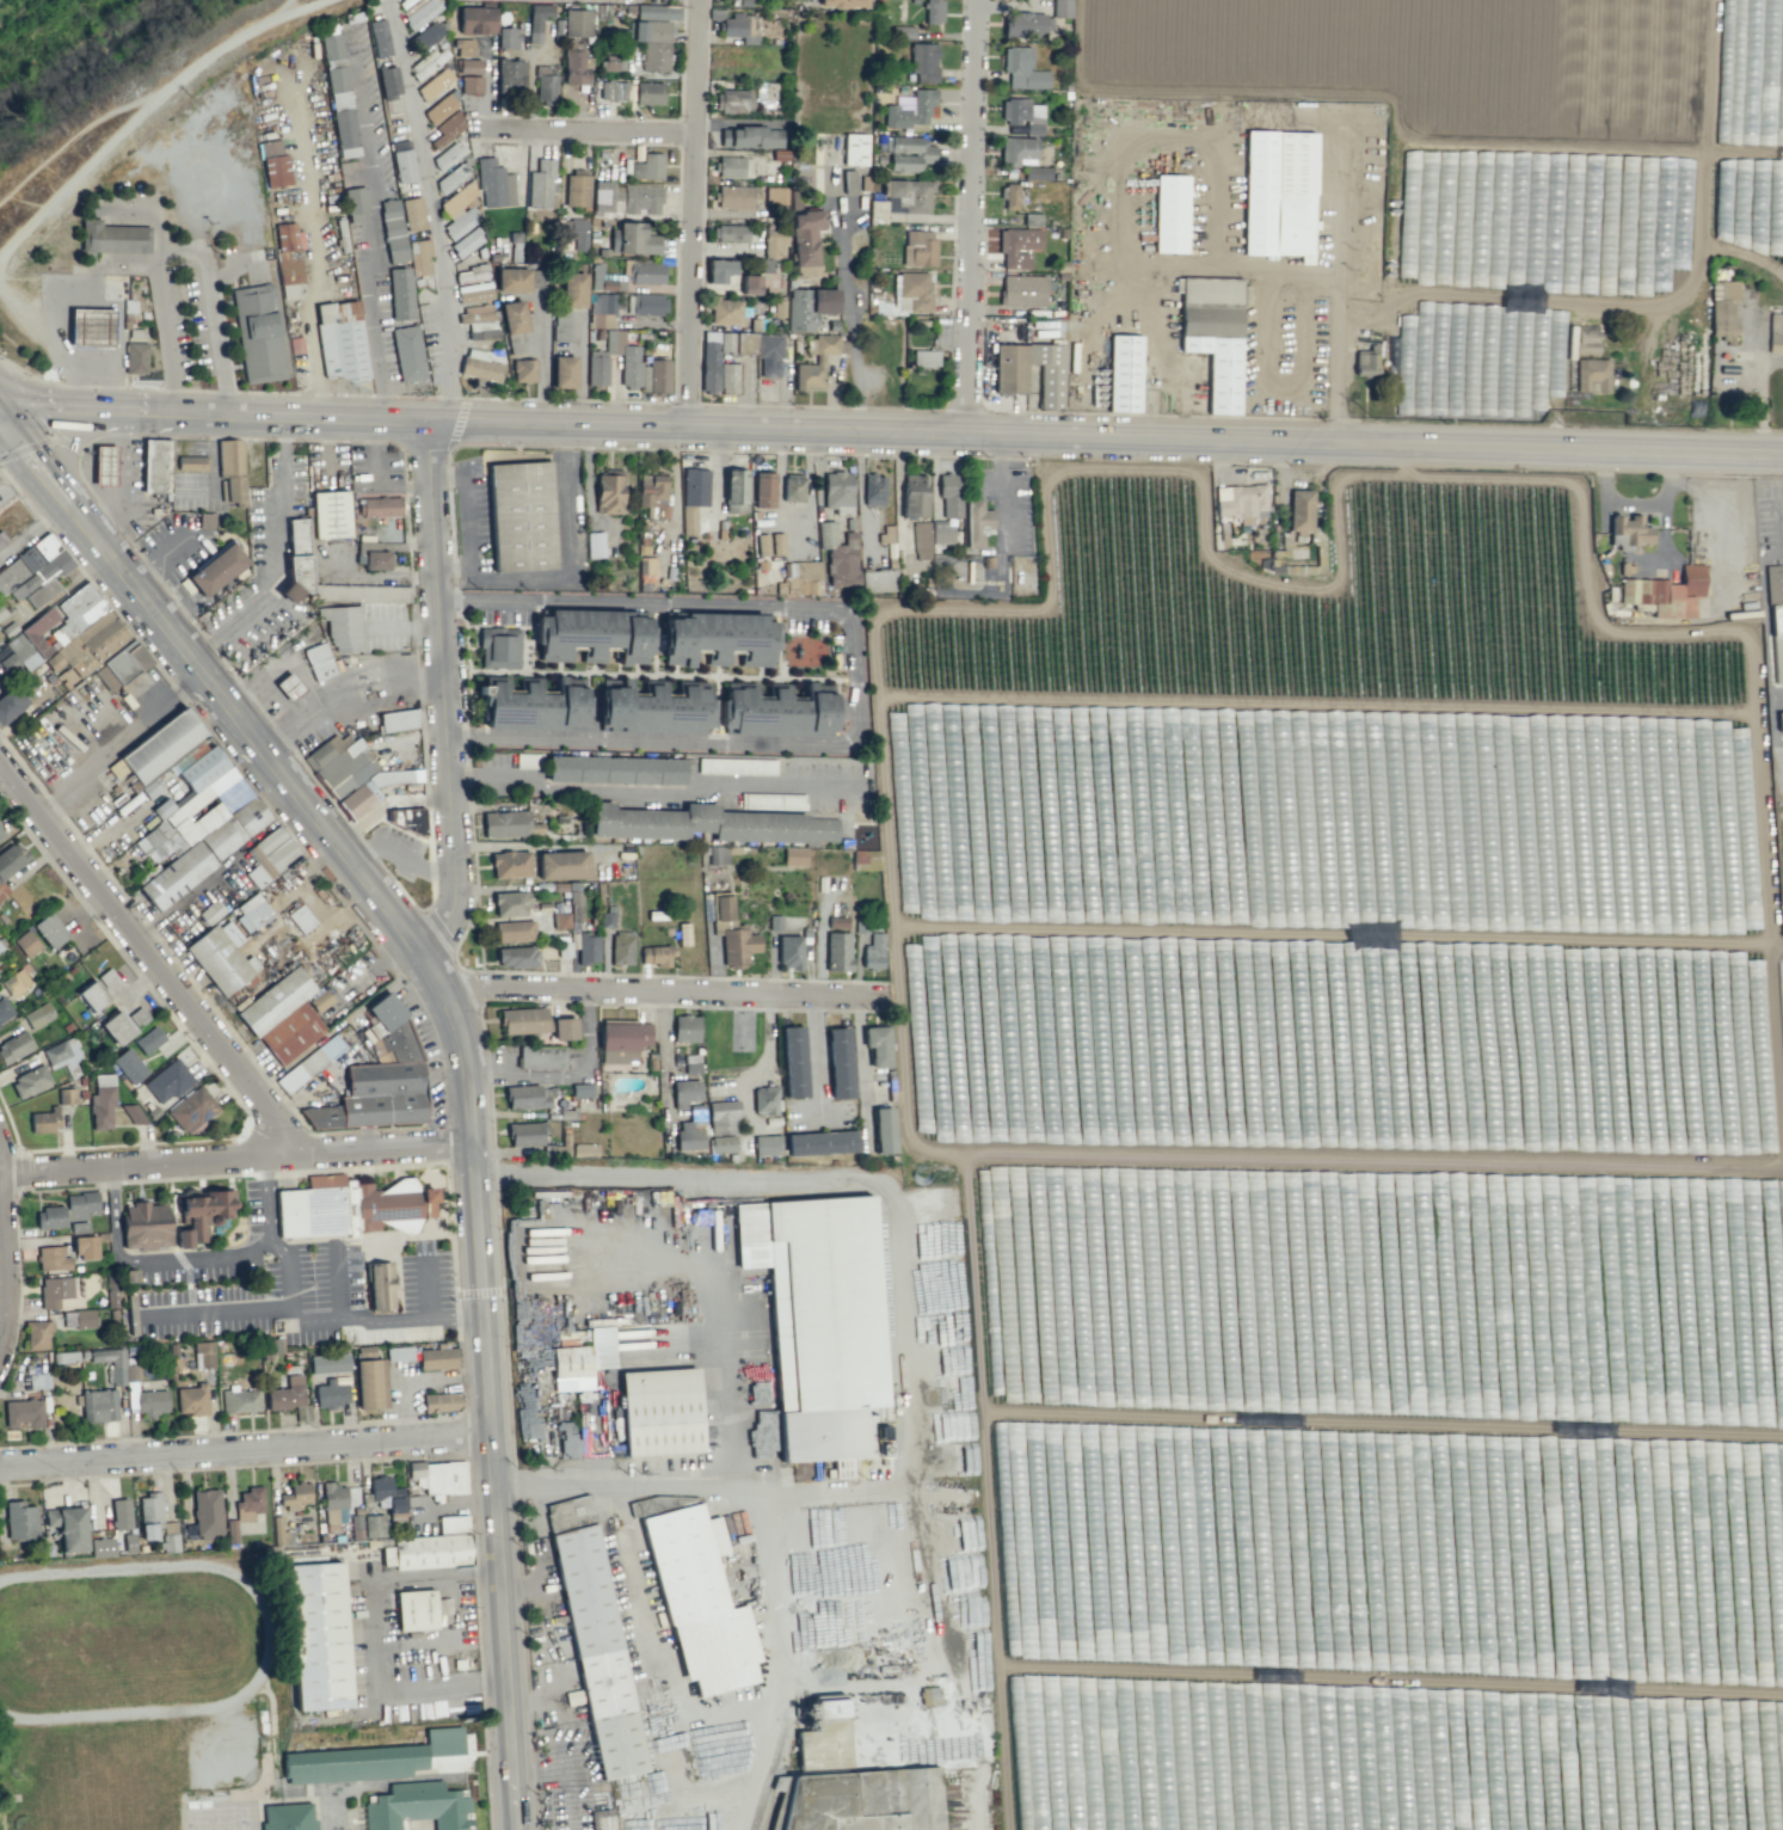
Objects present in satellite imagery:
building: (406, 1)
building: (842, 2)
building: (1062, 8)
building: (657, 11)
building: (933, 11)
park: (54, 12)
building: (420, 13)
building: (715, 13)
building: (477, 19)
building: (537, 20)
building: (577, 23)
building: (1027, 24)
river: (30, 25)
building: (1751, 27)
building: (428, 35)
building: (380, 37)
building: (508, 37)
building: (653, 43)
building: (463, 47)
park: (4, 61)
building: (923, 61)
building: (429, 62)
building: (610, 62)
building: (576, 63)
building: (469, 66)
building: (1022, 69)
building: (510, 75)
building: (388, 81)
building: (434, 84)
building: (471, 84)
building: (545, 86)
building: (613, 90)
building: (647, 93)
building: (766, 93)
building: (339, 94)
building: (732, 100)
building: (439, 109)
building: (911, 110)
building: (1023, 115)
road: (578, 124)
crop: (1488, 128)
building: (447, 129)
building: (750, 136)
building: (855, 149)
building: (1017, 151)
building: (908, 153)
building: (448, 155)
building: (273, 164)
building: (404, 165)
building: (647, 166)
building: (734, 166)
building: (1037, 172)
building: (453, 177)
building: (849, 179)
building: (541, 183)
building: (494, 184)
building: (577, 189)
building: (1278, 192)
building: (775, 196)
building: (1009, 196)
building: (733, 197)
building: (625, 198)
building: (794, 198)
building: (902, 198)
building: (355, 199)
building: (460, 210)
road: (687, 211)
building: (412, 214)
road: (434, 214)
building: (1170, 214)
road: (969, 215)
road: (375, 231)
building: (393, 231)
building: (730, 232)
building: (578, 233)
building: (112, 237)
building: (805, 237)
building: (633, 239)
building: (466, 242)
building: (774, 242)
building: (515, 246)
building: (1017, 246)
building: (918, 247)
building: (419, 257)
building: (288, 259)
road: (119, 265)
building: (719, 270)
building: (805, 271)
building: (646, 272)
building: (471, 275)
building: (512, 280)
building: (601, 280)
building: (750, 284)
building: (573, 289)
building: (1022, 290)
building: (473, 291)
building: (400, 293)
building: (908, 294)
building: (647, 303)
building: (809, 307)
building: (780, 308)
building: (1723, 309)
building: (602, 311)
building: (727, 311)
road: (211, 313)
building: (474, 314)
building: (512, 317)
building: (561, 323)
building: (91, 327)
gas station: (99, 330)
building: (481, 330)
building: (257, 332)
building: (1213, 334)
building: (342, 342)
building: (407, 352)
building: (769, 355)
road: (851, 355)
building: (135, 357)
building: (709, 357)
building: (924, 357)
building: (1365, 361)
building: (816, 363)
building: (1009, 368)
building: (597, 369)
building: (523, 370)
building: (562, 371)
building: (1124, 373)
building: (1049, 374)
building: (1592, 374)
building: (654, 376)
road: (891, 429)
road: (67, 440)
building: (191, 462)
building: (104, 465)
building: (156, 465)
building: (232, 472)
road: (122, 477)
gas station: (130, 479)
building: (763, 489)
building: (792, 489)
building: (734, 490)
building: (873, 490)
building: (608, 491)
building: (837, 491)
building: (949, 495)
building: (914, 496)
building: (693, 497)
building: (1241, 502)
building: (380, 506)
building: (1301, 510)
building: (330, 514)
building: (521, 516)
building: (205, 521)
building: (977, 522)
building: (1630, 529)
building: (942, 532)
building: (886, 534)
building: (2, 540)
building: (921, 540)
building: (595, 544)
building: (762, 544)
building: (776, 544)
parking lot: (177, 545)
road: (272, 553)
building: (371, 553)
building: (837, 555)
road: (156, 559)
building: (296, 560)
building: (216, 569)
building: (647, 569)
building: (41, 570)
building: (11, 575)
building: (878, 581)
building: (361, 592)
building: (1666, 592)
building: (1776, 619)
building: (340, 626)
building: (591, 635)
building: (718, 638)
building: (499, 646)
building: (87, 647)
building: (16, 656)
building: (319, 661)
building: (121, 665)
road: (854, 675)
road: (214, 682)
building: (288, 686)
road: (448, 694)
building: (11, 704)
building: (531, 705)
building: (657, 707)
building: (775, 712)
building: (398, 719)
building: (1779, 720)
building: (161, 745)
building: (528, 760)
building: (736, 766)
building: (615, 769)
building: (394, 776)
building: (149, 788)
road: (646, 792)
building: (357, 798)
building: (771, 802)
building: (204, 807)
building: (407, 819)
building: (504, 823)
building: (708, 823)
building: (1, 833)
parking lot: (394, 847)
building: (718, 854)
building: (794, 855)
building: (270, 856)
road: (404, 858)
building: (865, 859)
building: (10, 862)
building: (510, 864)
building: (562, 864)
building: (176, 874)
building: (510, 903)
building: (211, 911)
building: (252, 911)
building: (301, 917)
building: (607, 919)
building: (560, 920)
building: (773, 922)
building: (861, 926)
building: (49, 931)
building: (514, 931)
building: (732, 933)
building: (25, 944)
building: (0, 947)
building: (621, 947)
building: (564, 948)
building: (588, 948)
building: (789, 951)
building: (838, 951)
building: (873, 951)
road: (147, 954)
building: (656, 954)
building: (516, 957)
building: (219, 959)
building: (14, 982)
road: (663, 993)
building: (91, 995)
building: (275, 1000)
building: (5, 1011)
building: (386, 1011)
building: (38, 1014)
building: (137, 1017)
building: (523, 1020)
building: (117, 1027)
building: (685, 1027)
building: (564, 1028)
building: (290, 1032)
building: (148, 1039)
building: (622, 1040)
building: (402, 1043)
building: (878, 1045)
building: (14, 1046)
building: (62, 1052)
building: (541, 1056)
building: (793, 1062)
building: (309, 1063)
building: (838, 1063)
building: (129, 1066)
road: (665, 1067)
building: (30, 1081)
building: (168, 1081)
building: (582, 1089)
building: (684, 1092)
building: (383, 1093)
building: (66, 1095)
building: (525, 1097)
building: (766, 1099)
building: (102, 1101)
building: (192, 1109)
building: (135, 1113)
building: (322, 1116)
building: (724, 1117)
building: (44, 1120)
building: (884, 1130)
building: (525, 1134)
building: (688, 1136)
building: (822, 1142)
building: (723, 1143)
building: (767, 1144)
building: (584, 1149)
crop: (1355, 1153)
road: (238, 1161)
road: (834, 1177)
building: (81, 1205)
building: (350, 1206)
building: (201, 1215)
building: (49, 1217)
building: (145, 1224)
building: (79, 1227)
building: (85, 1247)
building: (51, 1258)
road: (153, 1259)
road: (2, 1270)
road: (338, 1283)
building: (379, 1286)
building: (111, 1289)
building: (54, 1290)
road: (426, 1290)
road: (217, 1308)
building: (78, 1318)
road: (306, 1320)
building: (822, 1326)
building: (38, 1333)
road: (715, 1344)
building: (398, 1352)
building: (203, 1355)
building: (64, 1357)
building: (438, 1357)
building: (583, 1359)
building: (328, 1363)
building: (115, 1364)
building: (38, 1380)
building: (369, 1380)
road: (493, 1388)
building: (287, 1394)
building: (331, 1394)
building: (191, 1399)
building: (152, 1401)
building: (240, 1401)
building: (441, 1401)
building: (98, 1405)
building: (23, 1413)
building: (662, 1413)
road: (248, 1451)
building: (441, 1479)
road: (711, 1482)
building: (387, 1494)
building: (295, 1496)
building: (248, 1503)
building: (333, 1503)
building: (121, 1513)
building: (205, 1513)
building: (149, 1515)
building: (20, 1521)
building: (453, 1524)
building: (374, 1525)
building: (68, 1527)
building: (230, 1530)
building: (168, 1536)
building: (283, 1536)
building: (124, 1542)
building: (100, 1547)
railway: (781, 1555)
building: (429, 1556)
building: (699, 1599)
road: (771, 1604)
building: (416, 1611)
building: (315, 1638)
track: (129, 1642)
building: (597, 1651)
road: (672, 1683)
building: (389, 1761)
road: (420, 1780)
park: (93, 1781)
building: (863, 1800)
building: (418, 1807)
building: (287, 1817)
park: (216, 1818)
building: (611, 1823)

